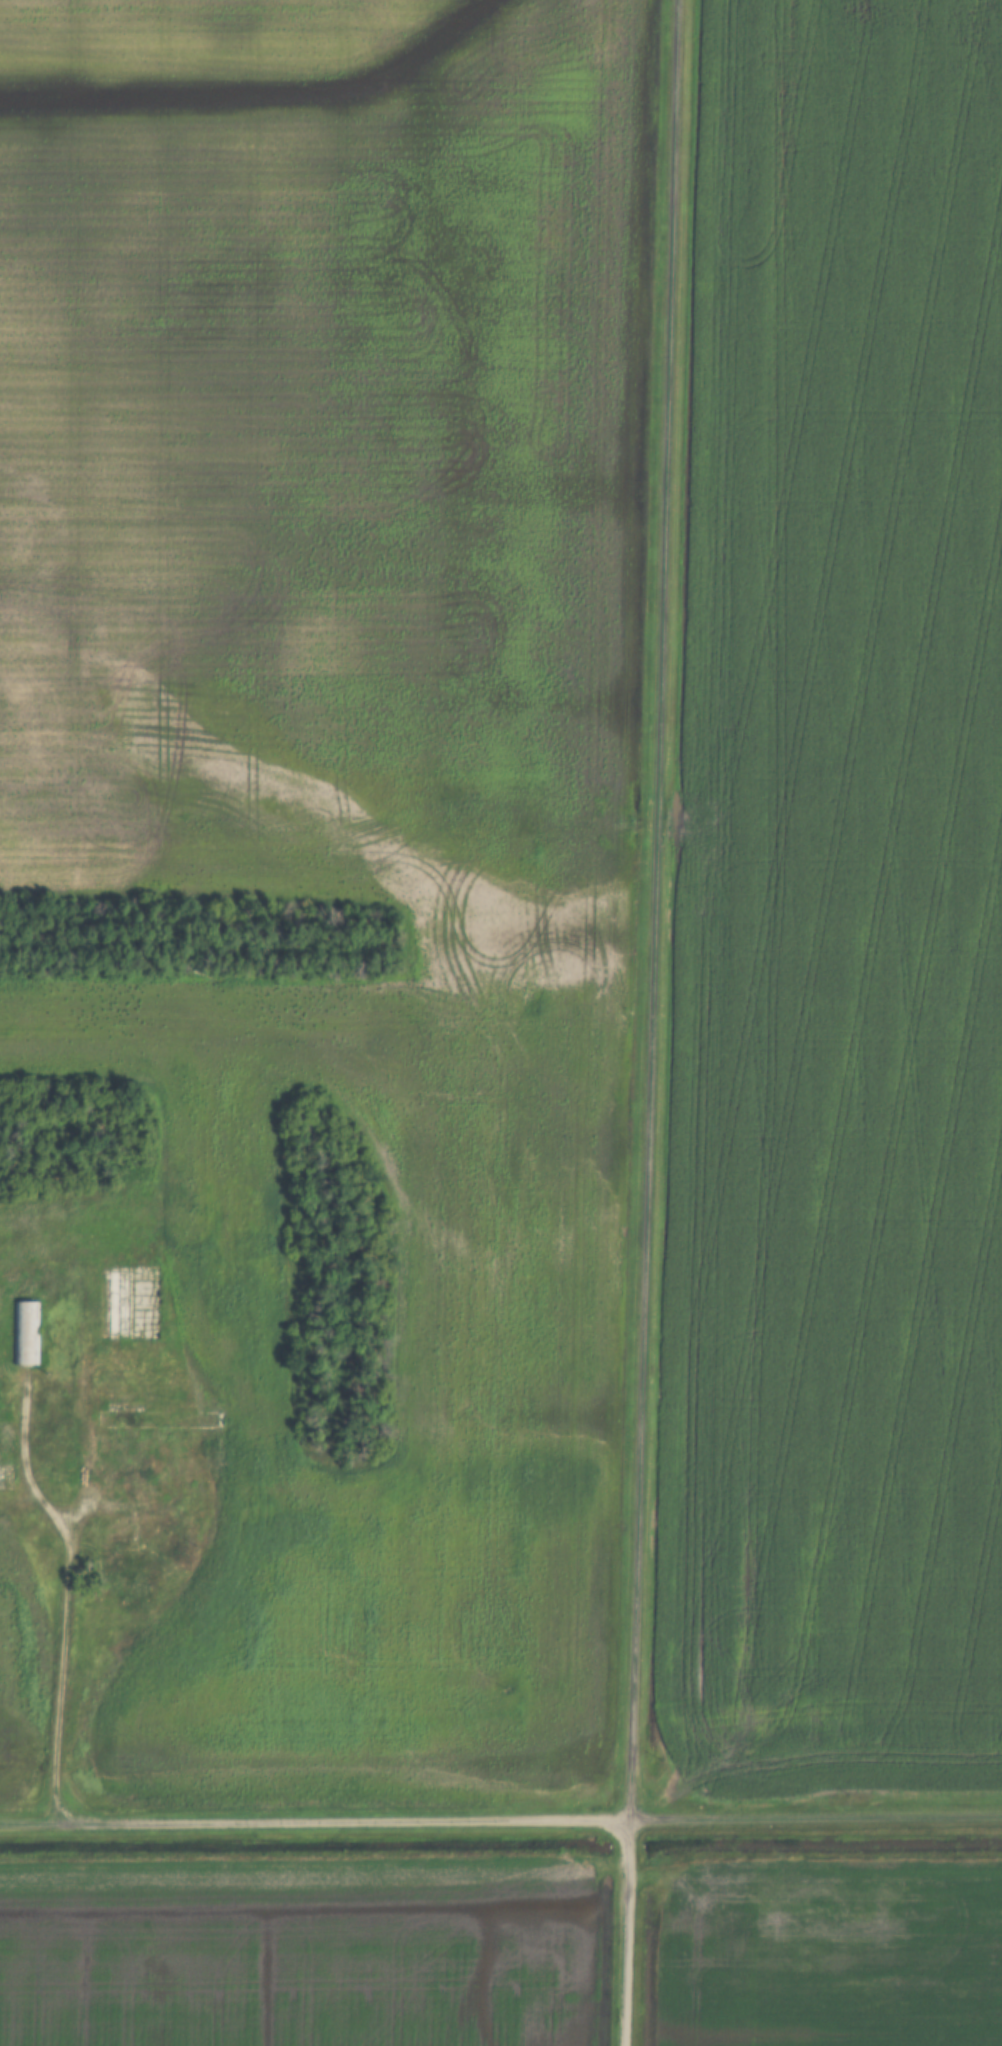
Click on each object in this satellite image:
crop: (339, 815)
road: (648, 910)
crop: (839, 912)
building: (111, 1301)
building: (24, 1331)
building: (122, 1419)
road: (83, 1456)
road: (23, 1459)
road: (150, 1486)
crop: (18, 1671)
road: (59, 1682)
road: (813, 1818)
road: (352, 1821)
road: (40, 1822)
road: (621, 1933)
crop: (826, 1950)
crop: (298, 1955)

